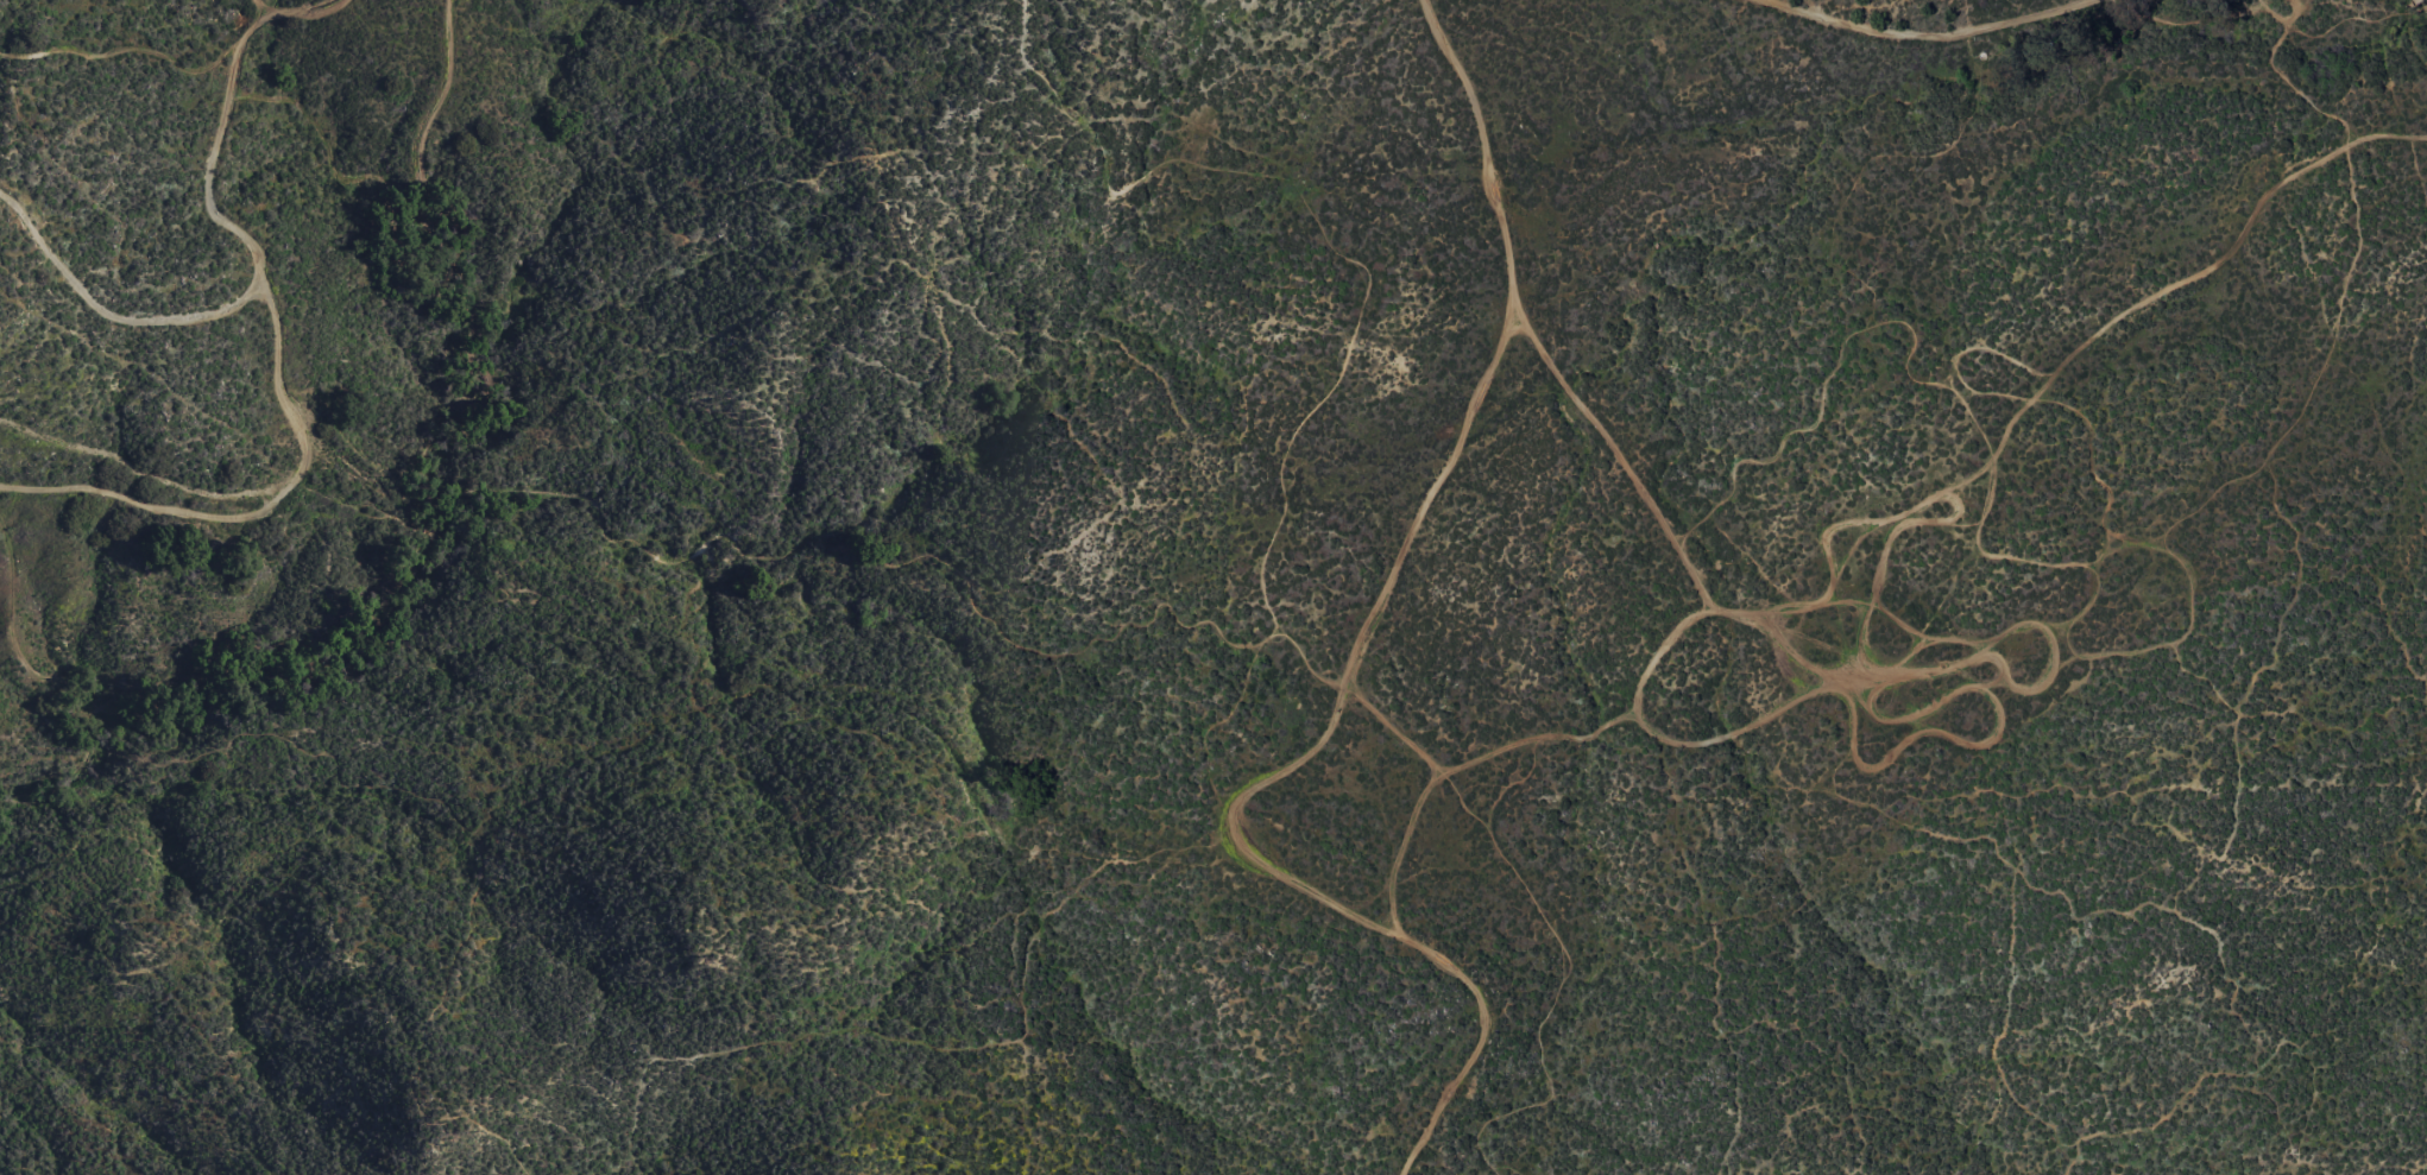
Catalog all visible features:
road: (1919, 38)
road: (253, 258)
road: (2118, 657)
road: (1351, 676)

